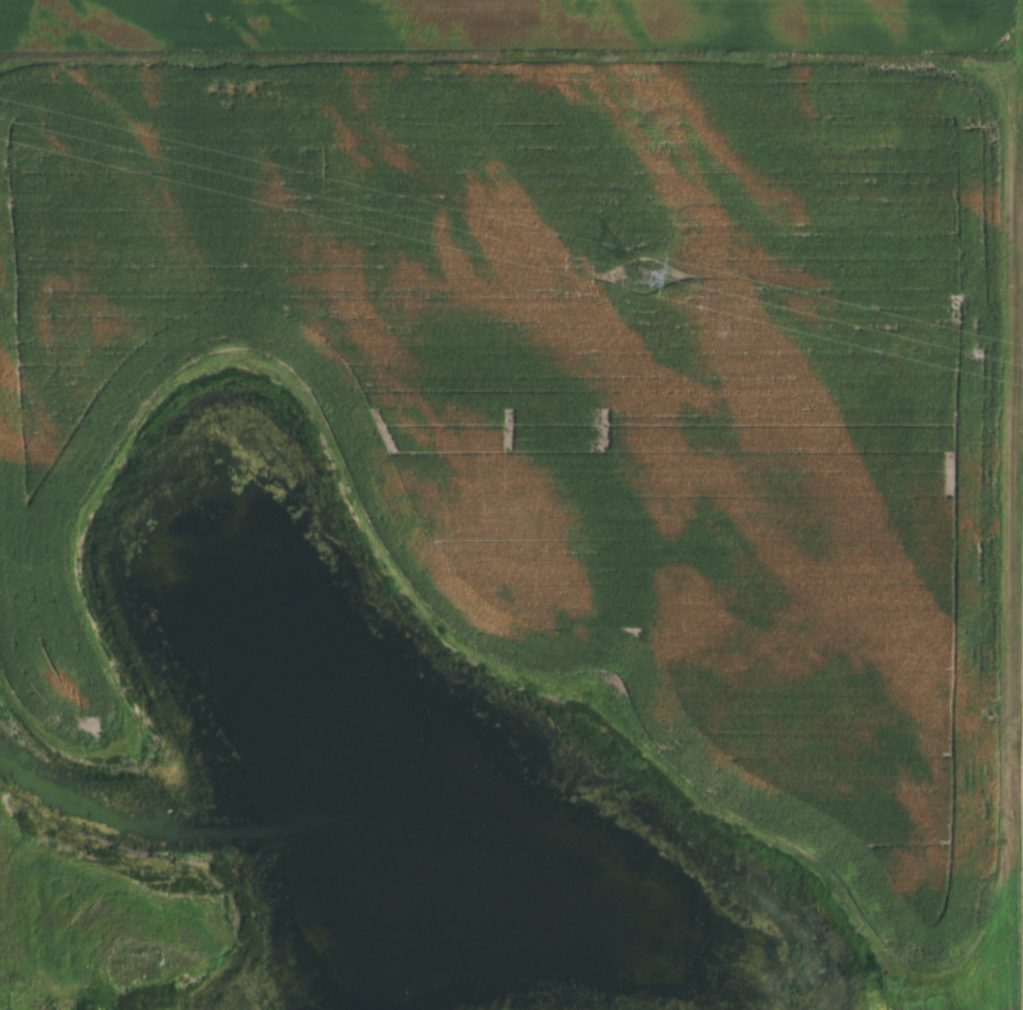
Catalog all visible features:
power tower: (639, 262)

